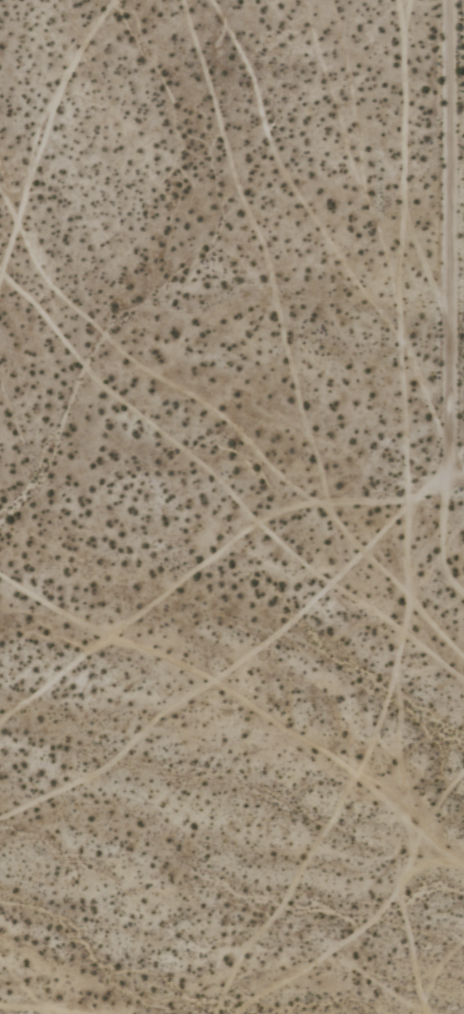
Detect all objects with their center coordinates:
road: (450, 237)
crop: (428, 371)

